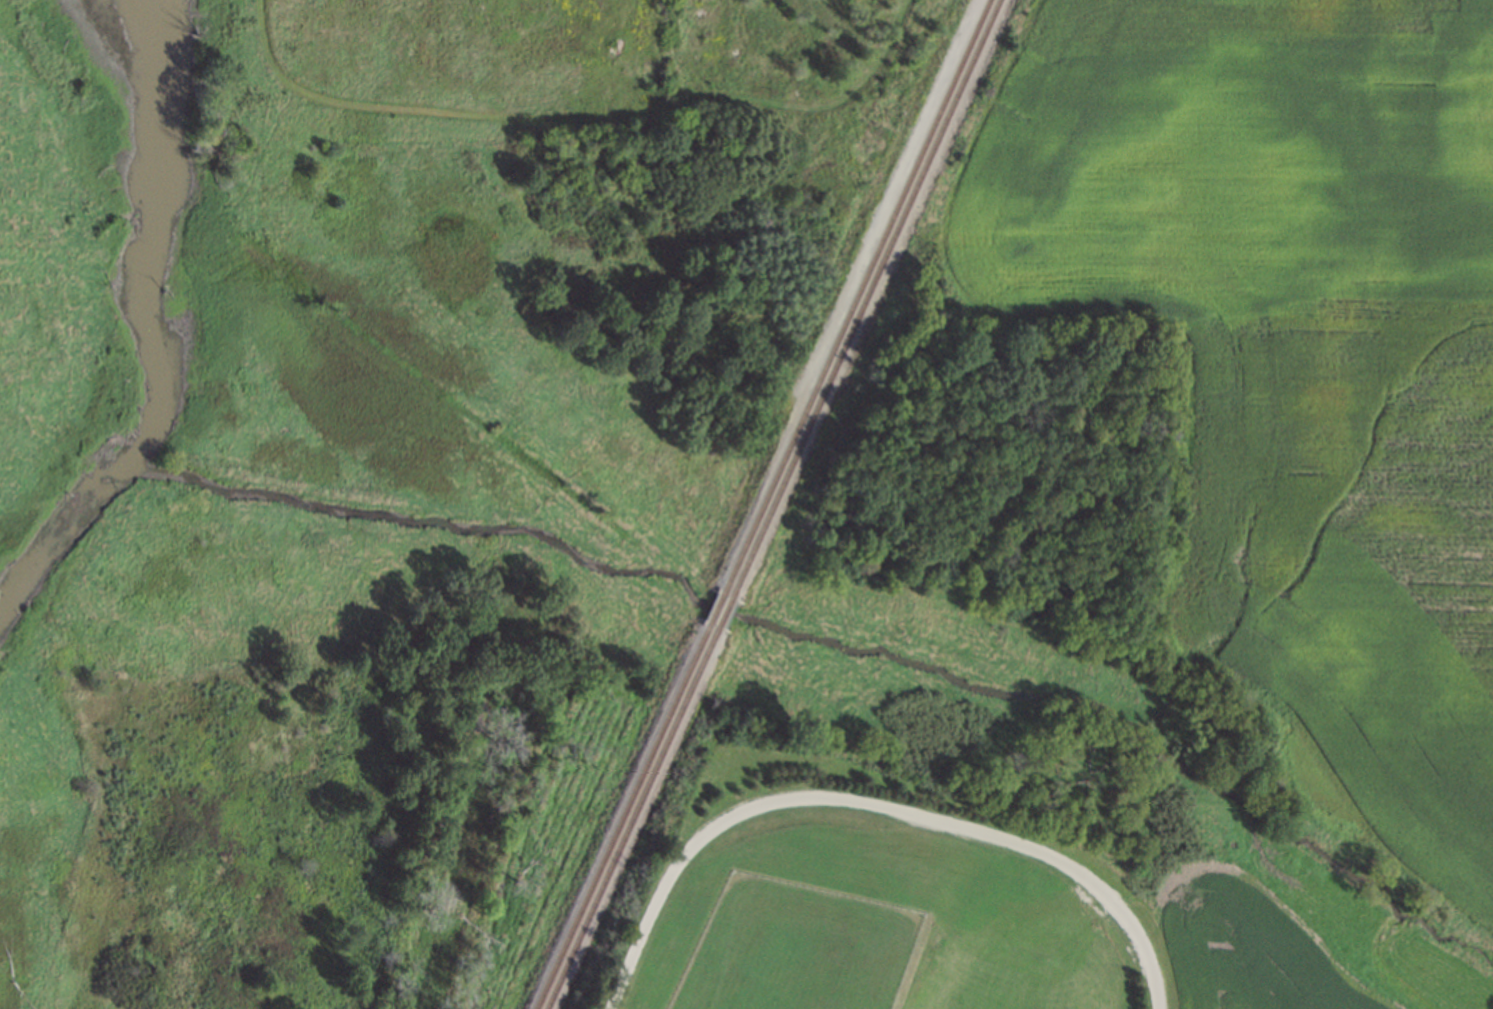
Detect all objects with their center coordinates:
road: (580, 117)
railway: (857, 294)
railway: (867, 297)
river: (163, 332)
railway: (717, 607)
railway: (726, 610)
road: (876, 809)
railway: (623, 817)
railway: (633, 817)

